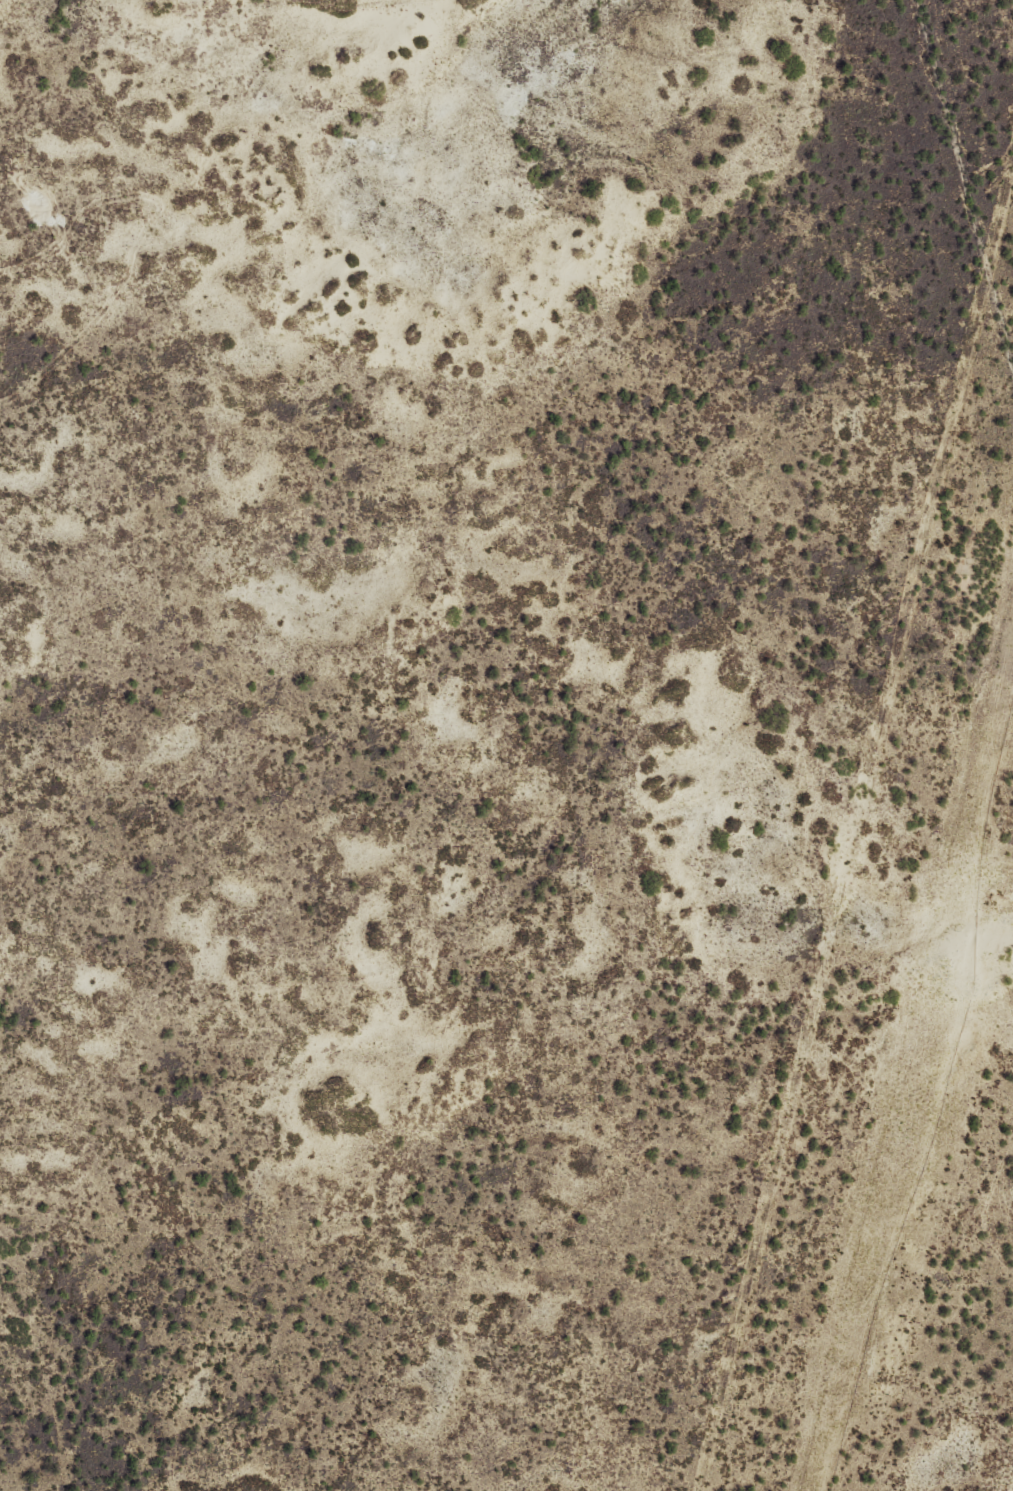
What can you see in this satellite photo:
road: (966, 185)

